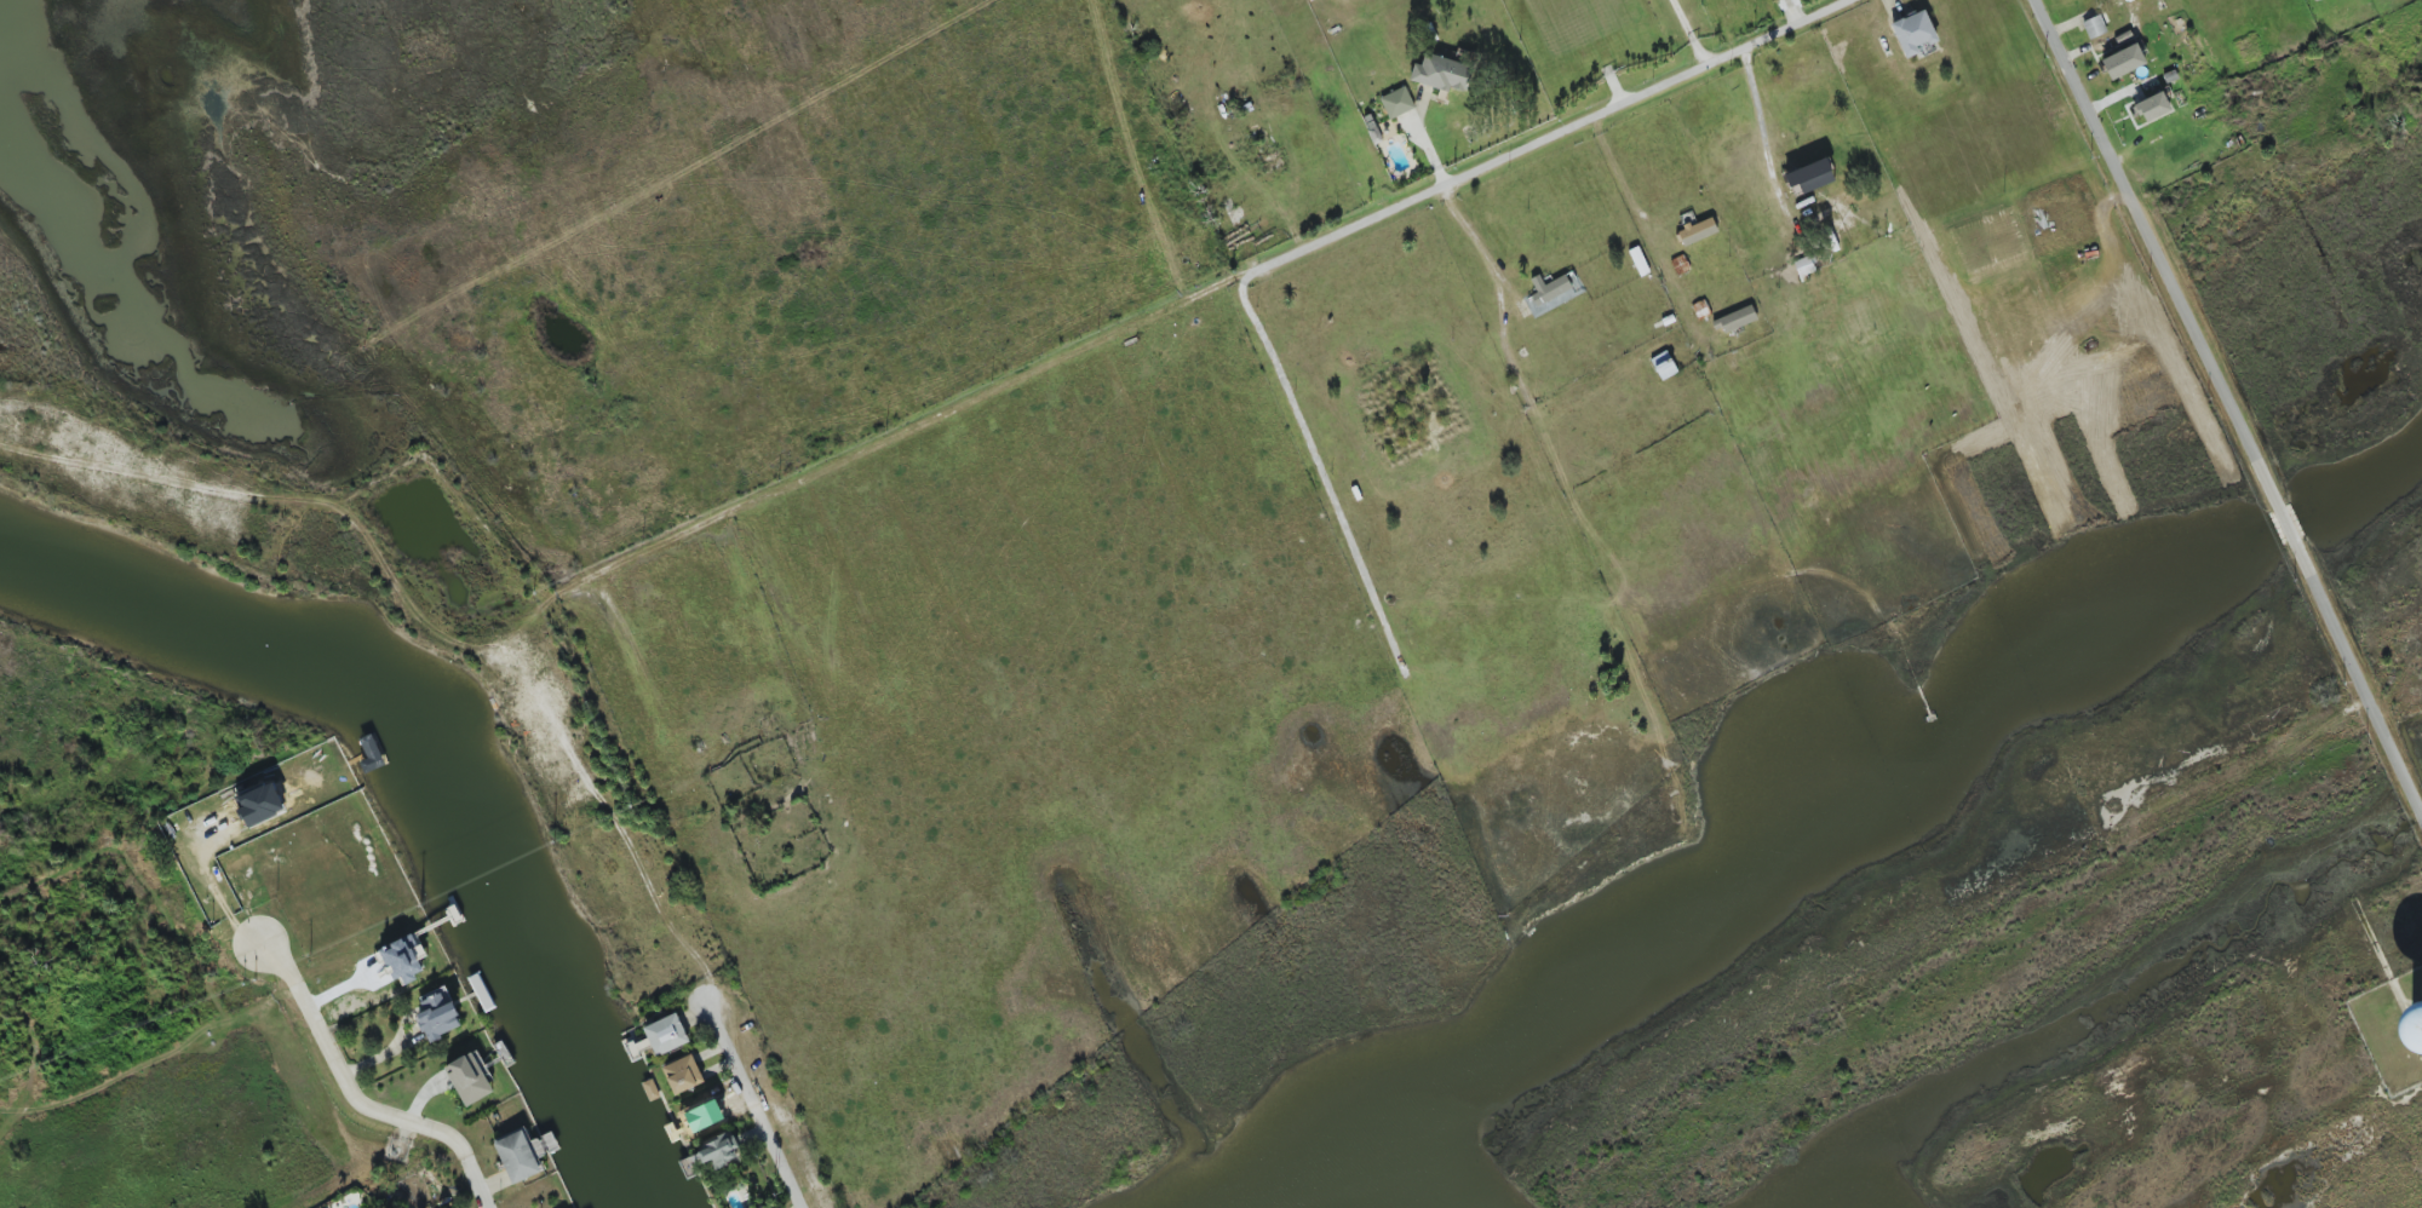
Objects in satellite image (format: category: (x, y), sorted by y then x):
building: (2094, 27)
road: (1688, 33)
building: (1913, 33)
building: (2123, 62)
building: (1441, 74)
building: (1397, 103)
building: (2150, 109)
building: (1373, 130)
road: (1764, 146)
road: (1350, 229)
building: (1698, 231)
road: (1477, 245)
building: (1638, 261)
building: (1553, 293)
building: (1735, 320)
road: (2233, 405)
road: (291, 502)
road: (681, 536)
building: (438, 1017)
building: (666, 1035)
building: (683, 1074)
building: (470, 1078)
road: (358, 1098)
road: (754, 1106)
building: (719, 1150)
building: (524, 1154)

